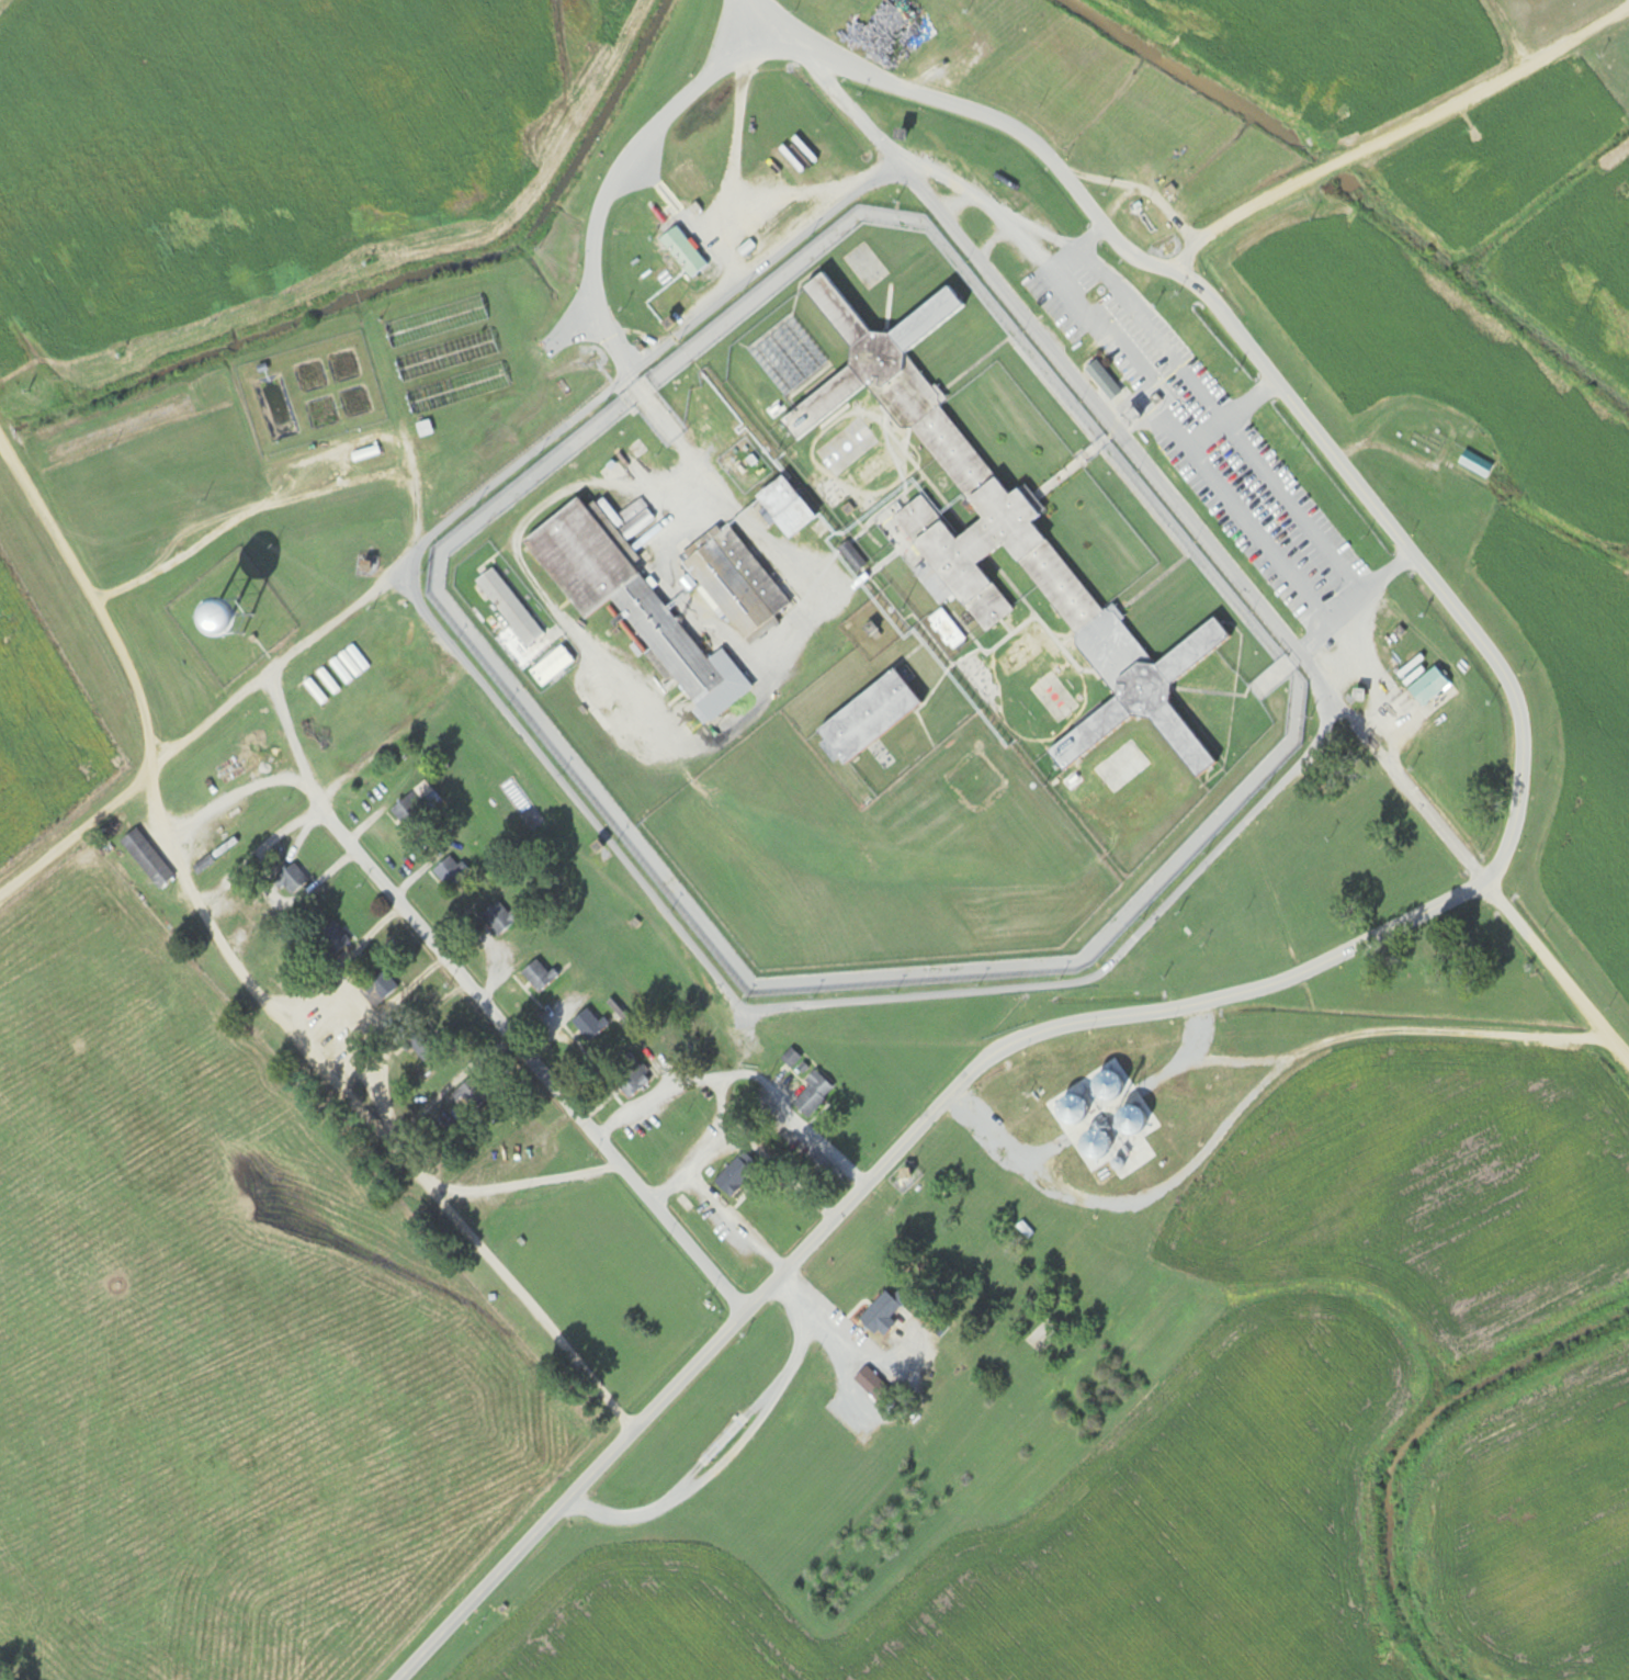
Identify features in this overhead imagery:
road: (1338, 181)
building: (682, 251)
building: (470, 312)
building: (1102, 379)
building: (1475, 462)
building: (970, 503)
building: (782, 506)
road: (1191, 542)
road: (438, 553)
building: (850, 555)
building: (735, 584)
building: (629, 604)
building: (508, 606)
building: (946, 629)
building: (551, 665)
building: (341, 669)
building: (1427, 686)
building: (315, 690)
building: (864, 717)
building: (408, 810)
building: (146, 858)
building: (448, 871)
building: (289, 877)
building: (377, 988)
building: (136, 1016)
building: (588, 1023)
building: (422, 1046)
road: (539, 1056)
building: (789, 1058)
road: (749, 1072)
building: (814, 1091)
building: (465, 1096)
road: (713, 1146)
road: (780, 1169)
building: (735, 1174)
road: (863, 1182)
road: (737, 1219)
building: (879, 1315)
building: (867, 1380)

